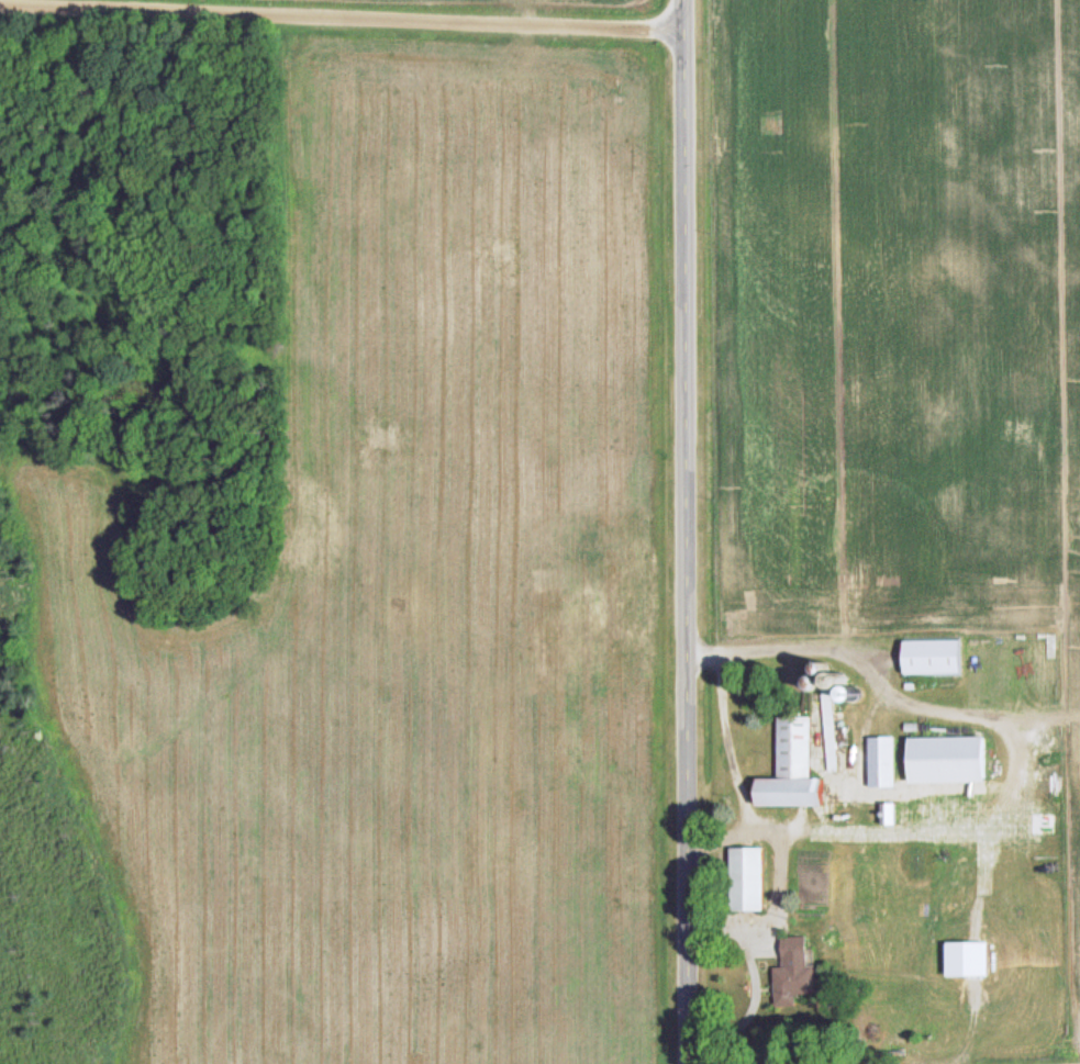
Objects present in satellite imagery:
road: (342, 13)
road: (687, 531)
building: (933, 657)
building: (948, 760)
building: (883, 761)
building: (793, 768)
building: (747, 877)
building: (795, 972)

